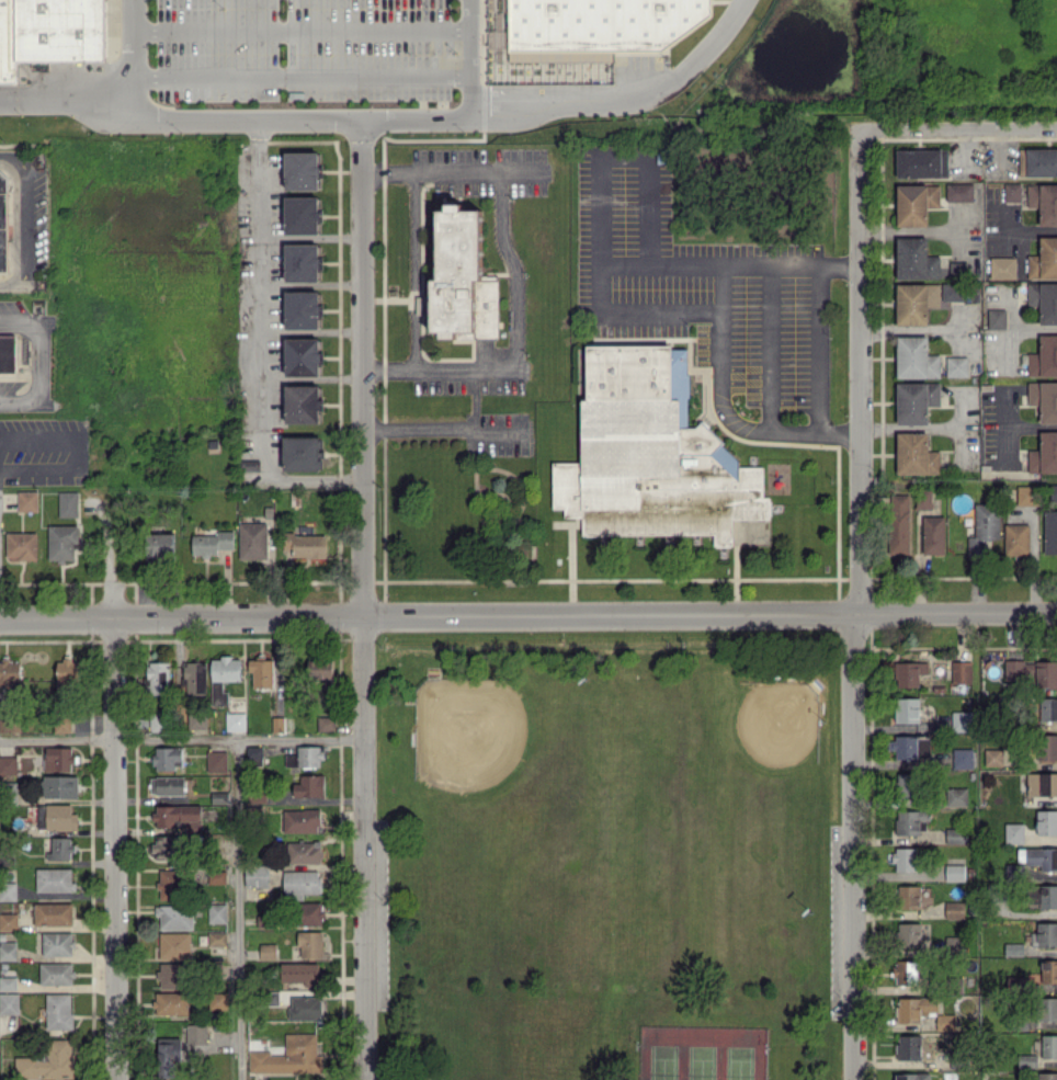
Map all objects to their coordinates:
building: (595, 22)
road: (297, 29)
building: (49, 32)
road: (127, 55)
road: (467, 55)
road: (297, 73)
road: (566, 100)
road: (177, 115)
road: (961, 136)
road: (623, 156)
building: (1041, 161)
building: (921, 163)
building: (300, 170)
building: (958, 192)
building: (1012, 192)
building: (1043, 202)
building: (914, 203)
building: (300, 214)
road: (20, 219)
building: (3, 220)
building: (914, 259)
building: (1044, 259)
building: (302, 262)
building: (1002, 268)
building: (461, 278)
road: (514, 280)
road: (718, 285)
building: (959, 293)
building: (1043, 300)
road: (255, 302)
building: (914, 303)
road: (627, 308)
building: (302, 309)
building: (996, 318)
road: (770, 345)
road: (816, 348)
building: (7, 353)
building: (302, 356)
building: (1043, 357)
building: (914, 359)
road: (38, 360)
building: (955, 366)
building: (1044, 399)
building: (914, 401)
building: (302, 403)
road: (437, 431)
building: (647, 451)
building: (303, 453)
building: (914, 454)
building: (1044, 454)
road: (315, 487)
building: (1054, 492)
building: (1026, 494)
building: (922, 499)
building: (26, 500)
building: (67, 503)
building: (899, 524)
building: (984, 528)
building: (1049, 532)
building: (932, 534)
building: (252, 539)
building: (1016, 539)
building: (62, 542)
building: (212, 543)
building: (21, 545)
building: (160, 545)
building: (306, 545)
road: (362, 596)
road: (856, 609)
road: (527, 614)
building: (320, 667)
building: (961, 671)
building: (261, 672)
building: (908, 672)
building: (10, 673)
building: (1046, 673)
building: (67, 674)
building: (224, 675)
building: (158, 677)
building: (194, 677)
building: (1048, 708)
building: (906, 709)
building: (236, 720)
building: (961, 720)
building: (157, 721)
building: (197, 721)
building: (11, 723)
building: (62, 723)
building: (326, 723)
road: (180, 739)
building: (902, 747)
building: (1046, 747)
building: (254, 754)
park: (741, 754)
building: (168, 757)
building: (992, 757)
building: (963, 758)
building: (58, 759)
building: (216, 761)
building: (8, 764)
park: (507, 770)
building: (1041, 783)
building: (167, 785)
building: (309, 785)
building: (60, 786)
building: (906, 786)
building: (955, 796)
building: (56, 817)
building: (179, 817)
building: (302, 820)
building: (909, 821)
building: (1046, 822)
building: (1013, 832)
building: (955, 835)
building: (166, 846)
building: (60, 848)
road: (113, 848)
building: (304, 852)
park: (606, 853)
building: (1039, 857)
building: (954, 872)
building: (216, 876)
building: (257, 876)
building: (54, 879)
building: (300, 882)
building: (169, 884)
building: (8, 890)
building: (1044, 895)
building: (909, 896)
road: (239, 909)
building: (953, 909)
building: (217, 912)
building: (53, 913)
building: (310, 913)
building: (174, 917)
building: (8, 921)
building: (1045, 935)
building: (217, 937)
building: (57, 943)
building: (951, 943)
building: (310, 944)
building: (174, 945)
building: (1013, 948)
building: (8, 950)
building: (268, 951)
building: (1048, 970)
building: (299, 971)
building: (906, 971)
building: (56, 973)
building: (173, 975)
building: (8, 982)
building: (9, 1002)
building: (171, 1002)
building: (306, 1007)
building: (914, 1008)
building: (1048, 1009)
building: (58, 1011)
building: (196, 1033)
building: (1048, 1046)
building: (908, 1047)
park: (701, 1054)
building: (292, 1056)
building: (168, 1057)
building: (47, 1061)
building: (1025, 1061)
building: (911, 1076)
building: (1047, 1076)

